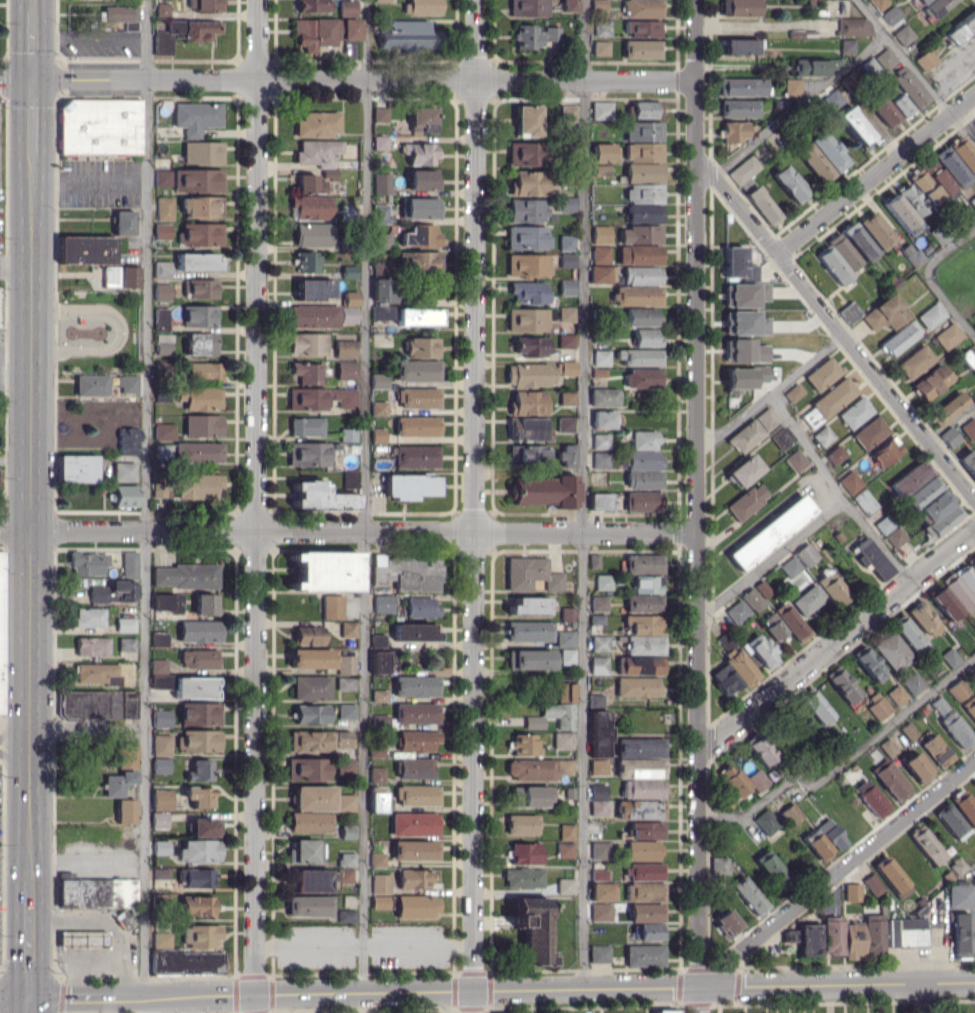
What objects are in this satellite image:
building: (922, 1)
building: (878, 3)
building: (598, 4)
building: (203, 5)
building: (313, 5)
building: (569, 5)
road: (32, 6)
building: (935, 6)
building: (347, 7)
building: (422, 7)
building: (739, 7)
building: (528, 8)
building: (642, 8)
building: (161, 9)
building: (890, 14)
building: (121, 15)
building: (852, 26)
building: (601, 27)
building: (347, 28)
building: (642, 28)
building: (961, 28)
building: (199, 30)
building: (313, 33)
building: (551, 33)
building: (902, 34)
building: (407, 35)
building: (525, 36)
building: (166, 37)
road: (32, 45)
building: (846, 45)
building: (739, 46)
building: (600, 47)
building: (641, 49)
building: (884, 58)
building: (924, 59)
building: (809, 67)
road: (916, 72)
traffic signals: (32, 79)
road: (347, 80)
building: (741, 86)
building: (909, 86)
building: (791, 87)
building: (831, 99)
road: (799, 105)
building: (899, 105)
building: (737, 108)
building: (601, 109)
building: (645, 109)
building: (883, 111)
building: (379, 113)
building: (568, 113)
road: (32, 116)
building: (196, 117)
building: (421, 119)
building: (526, 120)
building: (317, 124)
building: (99, 126)
building: (855, 127)
building: (642, 131)
building: (733, 131)
building: (379, 142)
building: (827, 150)
building: (642, 151)
building: (202, 152)
building: (317, 152)
building: (602, 152)
building: (419, 153)
building: (524, 153)
building: (962, 153)
building: (814, 162)
building: (952, 166)
building: (743, 169)
building: (600, 170)
building: (642, 172)
road: (875, 172)
building: (936, 176)
building: (162, 177)
building: (422, 179)
building: (197, 180)
road: (89, 181)
building: (528, 182)
building: (309, 183)
building: (381, 183)
building: (789, 183)
building: (923, 185)
building: (643, 193)
building: (911, 199)
building: (564, 203)
road: (735, 204)
building: (762, 204)
building: (201, 206)
building: (311, 206)
building: (418, 207)
building: (164, 208)
building: (526, 210)
building: (380, 213)
building: (643, 213)
building: (899, 213)
building: (123, 222)
building: (876, 229)
building: (161, 231)
building: (200, 234)
building: (312, 234)
building: (600, 234)
building: (639, 234)
building: (420, 235)
building: (527, 237)
building: (381, 240)
building: (856, 241)
building: (566, 242)
building: (85, 249)
building: (843, 251)
building: (600, 254)
building: (638, 254)
building: (915, 259)
building: (566, 260)
building: (197, 261)
building: (306, 261)
building: (419, 262)
building: (527, 264)
building: (738, 264)
building: (832, 264)
building: (379, 268)
road: (16, 269)
building: (161, 269)
building: (349, 271)
building: (601, 274)
building: (641, 275)
building: (120, 276)
road: (929, 280)
building: (566, 286)
building: (199, 288)
building: (314, 288)
building: (382, 289)
building: (161, 291)
building: (529, 292)
building: (744, 294)
building: (637, 295)
building: (350, 297)
building: (383, 311)
building: (848, 312)
building: (885, 313)
building: (348, 314)
building: (566, 314)
building: (199, 315)
building: (930, 315)
building: (313, 316)
building: (417, 316)
building: (639, 316)
building: (161, 319)
building: (526, 319)
building: (744, 322)
building: (973, 326)
building: (947, 335)
building: (645, 337)
building: (898, 337)
building: (565, 340)
building: (200, 343)
building: (163, 344)
building: (307, 344)
building: (531, 346)
building: (421, 347)
building: (345, 349)
building: (743, 350)
building: (638, 356)
building: (600, 357)
building: (914, 362)
building: (566, 367)
building: (161, 368)
building: (345, 370)
building: (417, 370)
building: (204, 371)
building: (973, 371)
building: (305, 372)
building: (822, 373)
building: (530, 374)
road: (875, 375)
building: (642, 377)
building: (742, 377)
building: (378, 380)
building: (930, 381)
building: (128, 383)
building: (91, 384)
building: (792, 392)
road: (769, 394)
building: (199, 397)
building: (418, 397)
building: (603, 397)
building: (833, 397)
building: (320, 398)
building: (566, 398)
building: (527, 402)
building: (378, 408)
building: (946, 408)
building: (853, 412)
building: (603, 419)
road: (951, 420)
building: (565, 424)
building: (202, 425)
building: (306, 426)
building: (416, 426)
building: (969, 428)
building: (527, 429)
building: (752, 430)
building: (164, 431)
building: (869, 432)
building: (347, 434)
building: (377, 435)
building: (822, 435)
building: (781, 437)
building: (948, 437)
building: (642, 439)
building: (128, 441)
building: (600, 441)
building: (885, 451)
building: (163, 452)
building: (198, 452)
building: (308, 453)
building: (834, 454)
building: (527, 455)
building: (566, 455)
building: (415, 456)
building: (600, 459)
building: (641, 459)
building: (795, 460)
building: (967, 462)
building: (76, 468)
building: (742, 470)
building: (123, 471)
building: (349, 478)
building: (910, 478)
building: (643, 479)
building: (849, 482)
building: (194, 485)
building: (409, 485)
building: (545, 491)
building: (922, 491)
road: (583, 493)
building: (124, 495)
building: (320, 495)
road: (366, 496)
road: (146, 497)
building: (598, 501)
building: (642, 501)
building: (746, 501)
building: (864, 501)
road: (256, 506)
road: (475, 506)
road: (695, 506)
road: (31, 513)
building: (938, 513)
road: (821, 518)
road: (15, 530)
road: (363, 532)
building: (769, 532)
building: (894, 536)
road: (878, 539)
building: (805, 554)
building: (871, 559)
building: (594, 560)
building: (971, 562)
building: (87, 563)
building: (643, 563)
building: (129, 564)
building: (790, 566)
building: (324, 570)
building: (407, 572)
building: (530, 574)
building: (185, 575)
building: (966, 579)
building: (602, 582)
building: (646, 584)
building: (831, 588)
building: (113, 591)
building: (956, 591)
building: (752, 599)
building: (807, 599)
building: (162, 601)
building: (942, 601)
building: (204, 603)
building: (383, 603)
building: (598, 603)
building: (642, 603)
building: (528, 605)
building: (332, 606)
building: (420, 607)
building: (737, 611)
building: (567, 614)
building: (88, 617)
building: (923, 618)
building: (790, 621)
building: (125, 624)
building: (640, 624)
building: (773, 625)
building: (348, 629)
building: (0, 630)
building: (528, 630)
building: (199, 631)
building: (413, 631)
building: (908, 633)
building: (308, 635)
building: (565, 638)
road: (837, 638)
building: (159, 639)
building: (377, 640)
building: (599, 643)
building: (126, 644)
building: (643, 644)
building: (91, 646)
building: (760, 650)
building: (891, 650)
building: (566, 656)
building: (949, 657)
building: (198, 658)
building: (310, 658)
building: (529, 659)
building: (378, 661)
building: (867, 662)
building: (346, 664)
building: (158, 665)
building: (598, 665)
building: (639, 665)
building: (738, 666)
building: (96, 673)
building: (724, 679)
building: (345, 683)
building: (841, 683)
building: (912, 683)
building: (185, 685)
building: (415, 685)
building: (636, 686)
building: (311, 687)
building: (957, 689)
building: (564, 692)
building: (896, 694)
building: (379, 695)
building: (595, 700)
building: (98, 704)
building: (815, 705)
building: (877, 706)
building: (969, 707)
building: (346, 711)
building: (199, 713)
building: (310, 713)
building: (416, 713)
building: (553, 716)
building: (161, 718)
building: (380, 720)
road: (15, 729)
building: (955, 729)
building: (597, 733)
building: (341, 738)
building: (198, 740)
building: (416, 740)
building: (562, 740)
building: (309, 741)
building: (161, 744)
building: (524, 744)
building: (639, 747)
building: (887, 747)
building: (759, 748)
building: (935, 750)
building: (125, 755)
road: (15, 758)
road: (841, 764)
building: (160, 765)
building: (345, 766)
building: (563, 766)
building: (597, 766)
building: (414, 767)
building: (916, 767)
building: (307, 768)
building: (639, 768)
building: (530, 769)
building: (199, 770)
building: (376, 774)
building: (757, 779)
building: (890, 779)
building: (733, 780)
building: (119, 782)
building: (641, 788)
building: (597, 790)
building: (417, 795)
building: (199, 796)
building: (530, 796)
building: (312, 798)
building: (376, 798)
building: (871, 798)
building: (161, 799)
building: (346, 802)
building: (964, 806)
building: (597, 807)
building: (638, 809)
building: (126, 810)
building: (790, 813)
building: (159, 820)
building: (309, 821)
building: (765, 821)
building: (950, 821)
building: (414, 823)
building: (521, 824)
building: (205, 827)
building: (645, 830)
building: (346, 831)
building: (566, 831)
building: (830, 834)
building: (926, 844)
building: (818, 846)
building: (160, 847)
building: (564, 849)
building: (198, 850)
building: (414, 850)
building: (599, 850)
building: (642, 850)
building: (301, 851)
building: (523, 853)
building: (346, 859)
building: (376, 859)
building: (718, 865)
building: (770, 867)
building: (644, 871)
building: (160, 873)
road: (837, 873)
building: (598, 874)
building: (346, 875)
building: (891, 876)
building: (195, 877)
building: (522, 877)
building: (414, 878)
building: (311, 880)
building: (380, 883)
building: (871, 884)
building: (564, 886)
building: (601, 891)
building: (643, 891)
building: (94, 892)
building: (851, 892)
building: (748, 895)
building: (959, 896)
building: (379, 901)
building: (196, 905)
building: (416, 905)
building: (309, 906)
building: (600, 912)
building: (645, 912)
building: (346, 915)
building: (123, 920)
building: (726, 922)
building: (532, 929)
building: (647, 931)
building: (905, 932)
building: (873, 933)
building: (832, 934)
road: (30, 935)
building: (199, 935)
building: (960, 935)
building: (803, 938)
building: (82, 939)
building: (161, 939)
building: (852, 939)
road: (364, 943)
building: (598, 953)
building: (643, 955)
building: (186, 961)
road: (502, 989)
road: (923, 997)
road: (15, 998)
traffic signals: (30, 998)
road: (144, 1004)
road: (30, 1005)
road: (83, 1005)
road: (110, 1005)
building: (663, 1011)
building: (502, 1012)

